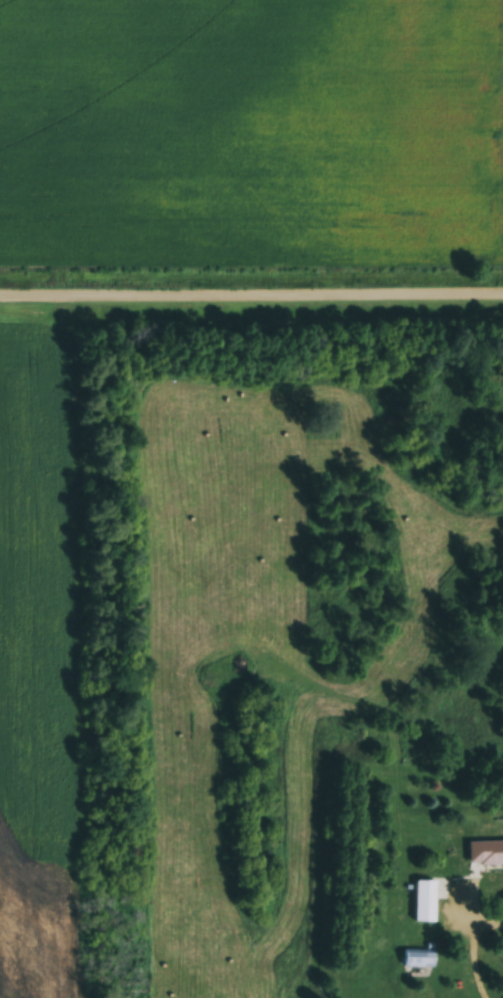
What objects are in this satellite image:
road: (251, 299)
building: (484, 853)
building: (424, 902)
road: (472, 949)
building: (417, 959)

